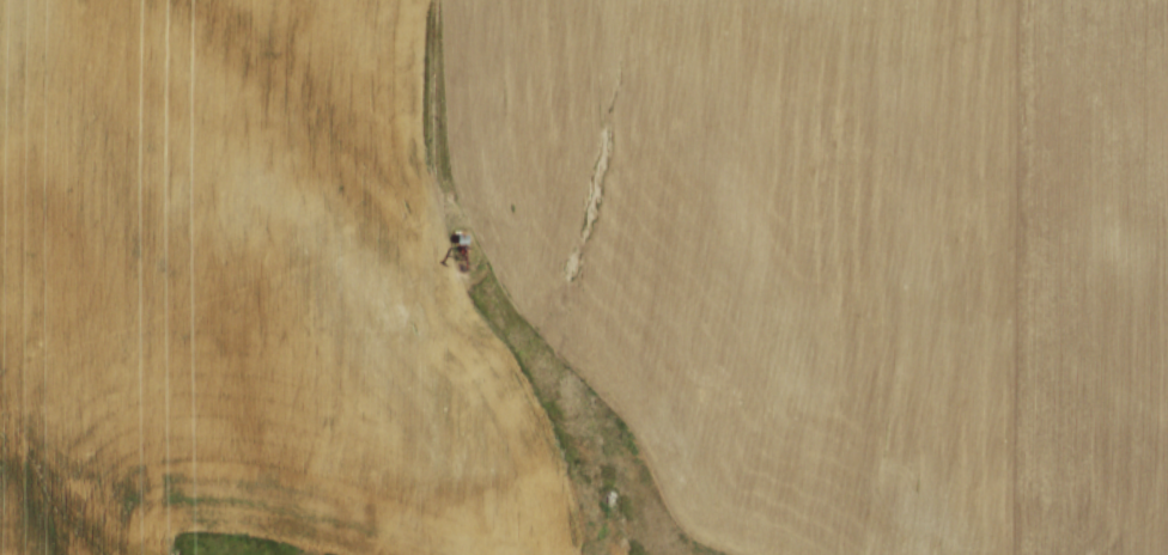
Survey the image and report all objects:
crop: (588, 269)

